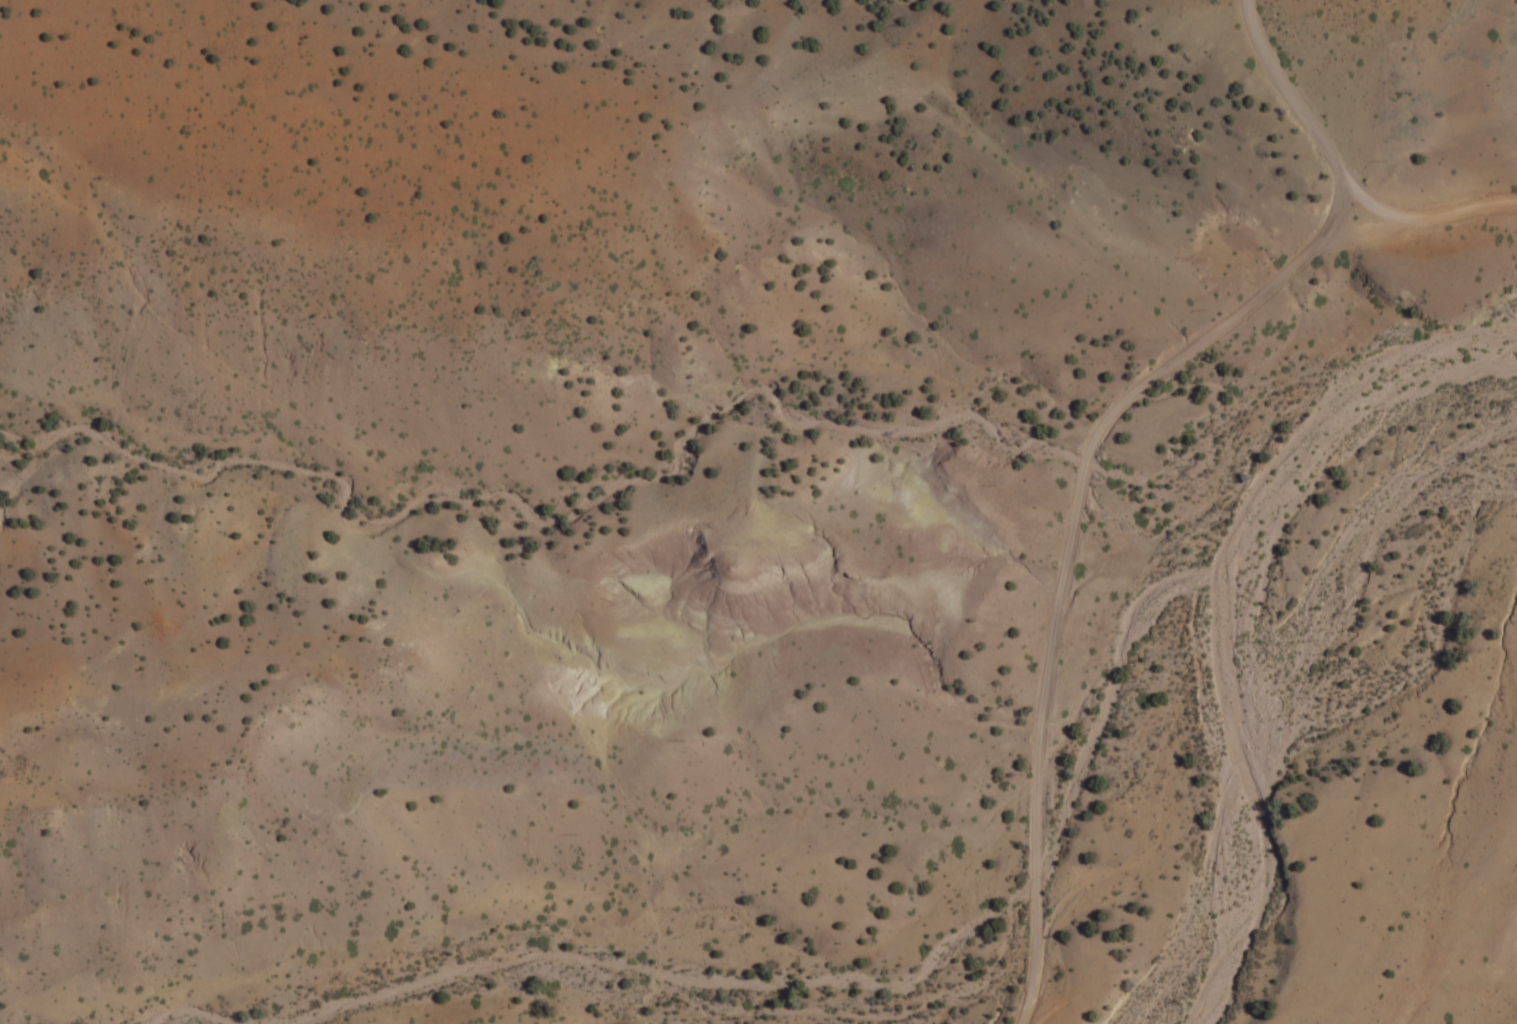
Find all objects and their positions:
road: (1299, 98)
road: (1382, 211)
road: (1343, 220)
road: (1080, 485)

